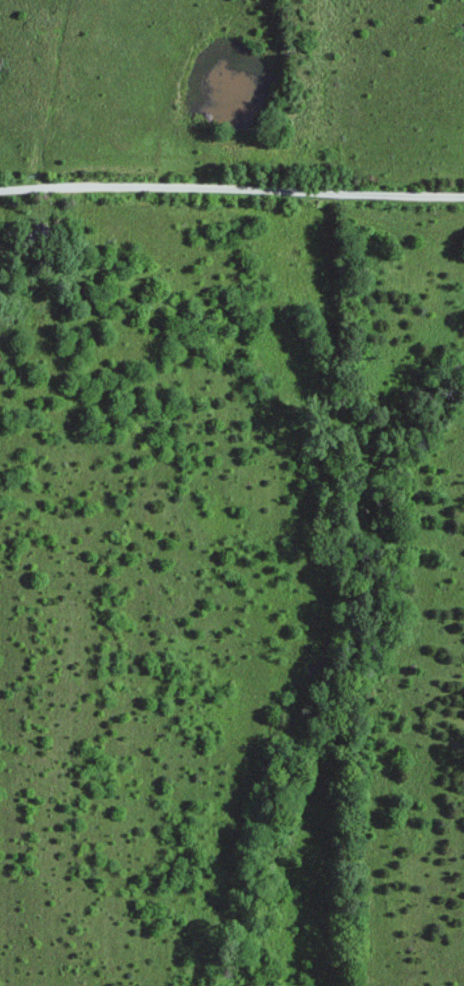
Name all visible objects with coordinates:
road: (290, 97)
road: (232, 187)

